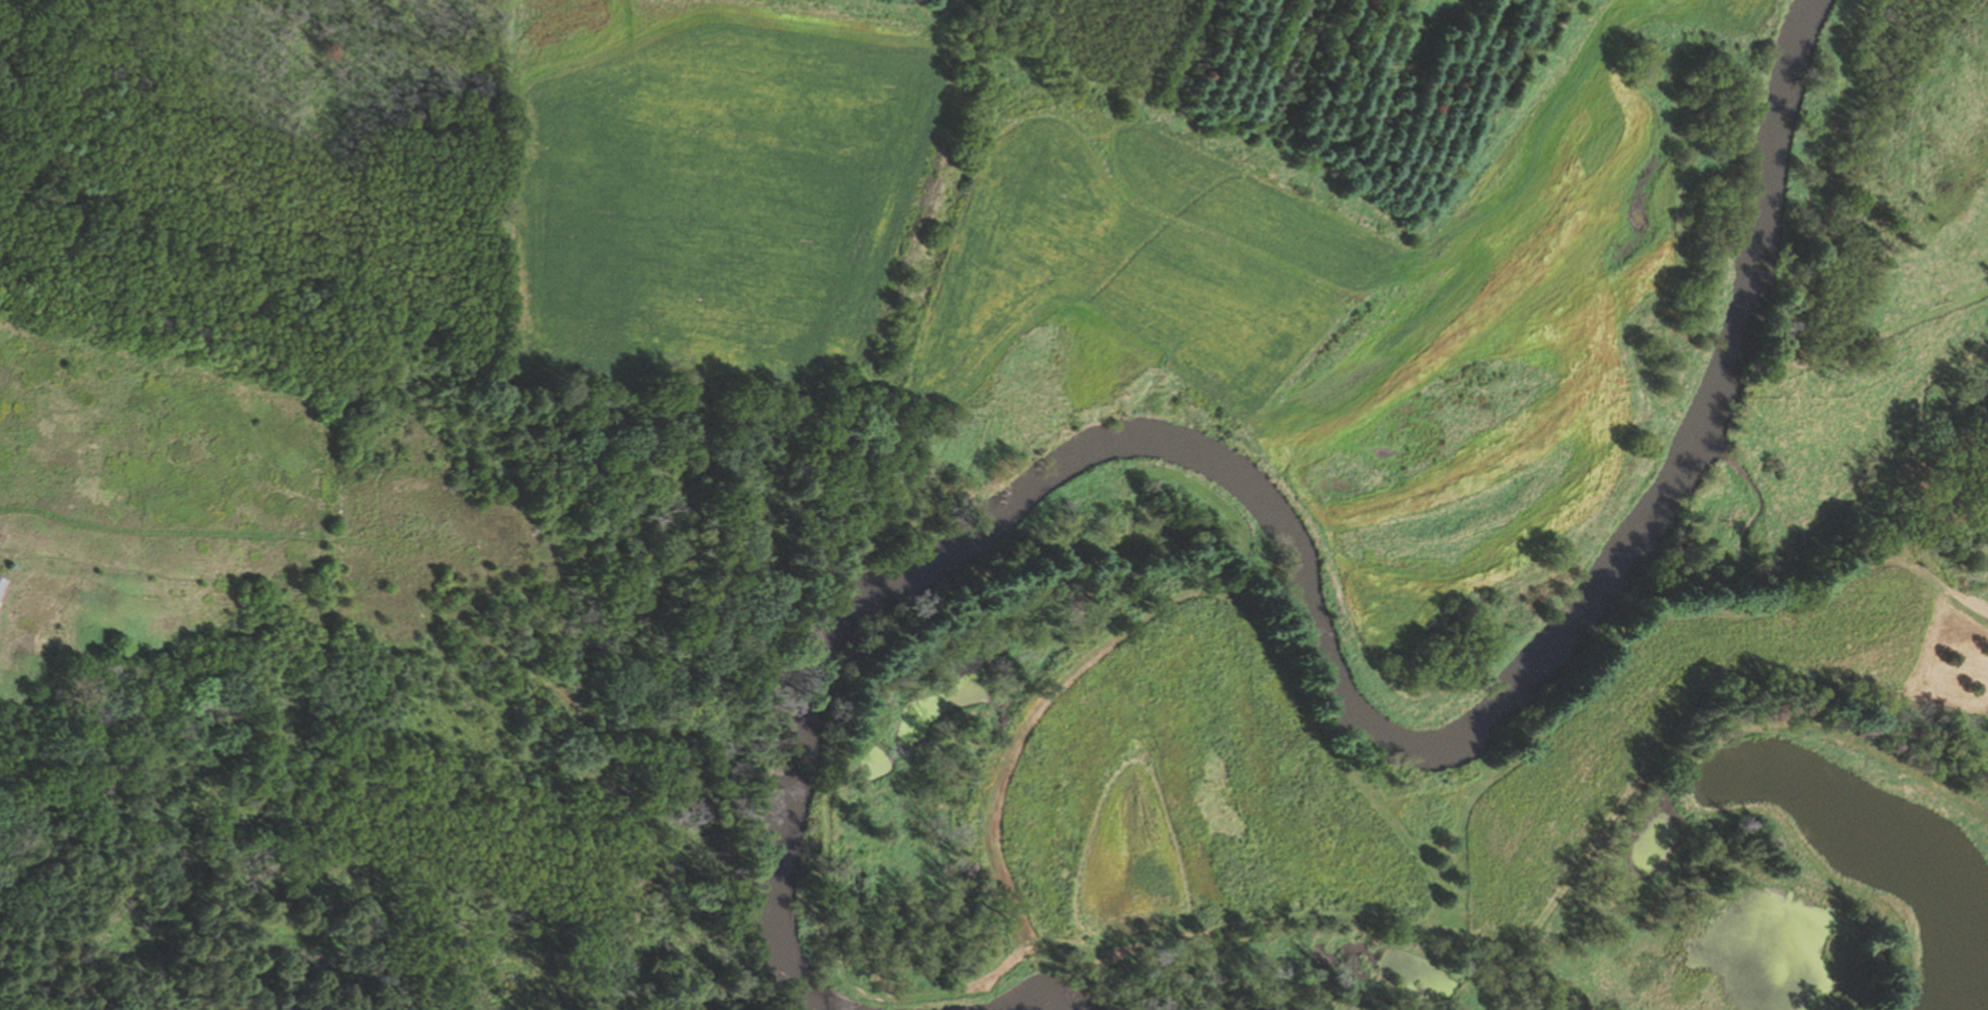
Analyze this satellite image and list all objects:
building: (5, 587)
river: (1329, 684)

